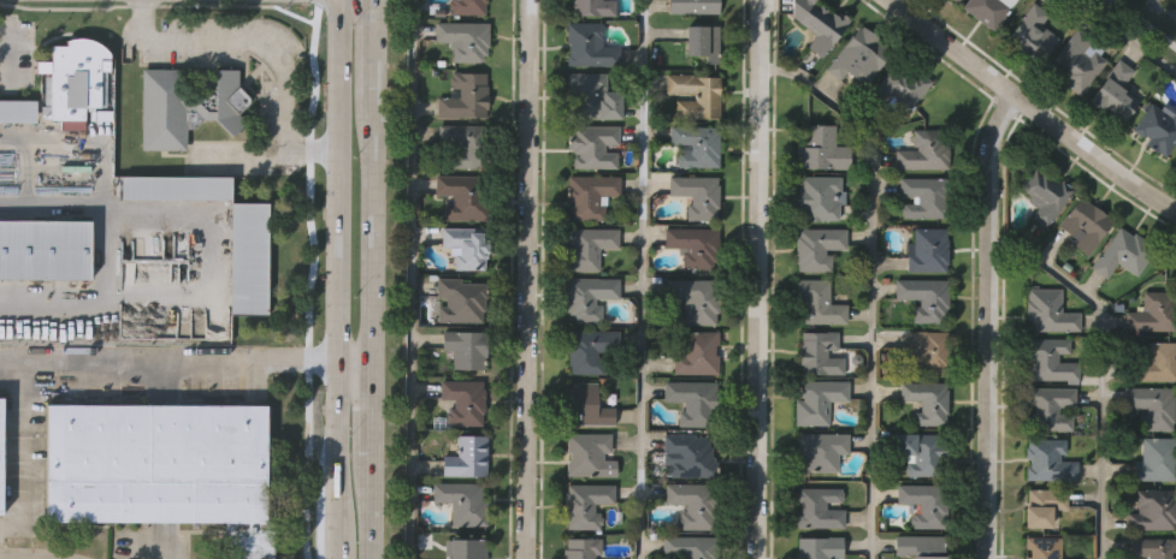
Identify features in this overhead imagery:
building: (958, 0)
building: (593, 6)
building: (693, 6)
building: (466, 7)
building: (988, 10)
building: (817, 24)
road: (1144, 24)
building: (1033, 30)
road: (1127, 37)
building: (465, 38)
building: (704, 40)
road: (266, 46)
building: (587, 47)
road: (370, 50)
building: (858, 55)
building: (1077, 61)
building: (77, 87)
building: (902, 87)
building: (1116, 90)
building: (695, 95)
building: (465, 96)
building: (592, 96)
building: (185, 103)
road: (1032, 107)
building: (18, 111)
building: (1158, 127)
building: (466, 144)
building: (592, 144)
building: (697, 145)
building: (820, 149)
building: (922, 151)
building: (1175, 162)
road: (243, 163)
road: (338, 177)
building: (176, 186)
building: (462, 195)
building: (590, 195)
building: (697, 195)
building: (922, 196)
building: (1046, 196)
building: (817, 198)
building: (1086, 225)
road: (370, 231)
building: (695, 245)
building: (466, 246)
building: (816, 246)
building: (43, 248)
building: (589, 248)
building: (928, 250)
building: (1123, 254)
building: (249, 256)
road: (208, 263)
road: (413, 279)
road: (528, 279)
road: (644, 279)
road: (760, 279)
road: (873, 280)
building: (589, 297)
building: (922, 297)
building: (461, 301)
building: (696, 301)
building: (817, 304)
building: (1048, 309)
building: (1154, 311)
road: (988, 322)
building: (465, 347)
building: (590, 350)
building: (926, 350)
building: (696, 352)
building: (817, 352)
road: (170, 357)
road: (341, 358)
building: (1050, 358)
road: (355, 362)
building: (1154, 363)
road: (1101, 364)
building: (816, 399)
building: (924, 400)
building: (463, 402)
building: (693, 402)
road: (370, 405)
building: (586, 405)
building: (1151, 406)
building: (1052, 408)
road: (341, 440)
building: (821, 450)
building: (918, 451)
building: (1, 453)
building: (589, 454)
road: (24, 456)
building: (687, 456)
building: (467, 457)
building: (1157, 457)
building: (1048, 460)
building: (162, 466)
building: (462, 501)
road: (368, 504)
building: (585, 504)
building: (692, 504)
building: (924, 505)
building: (1041, 505)
building: (817, 507)
building: (1152, 509)
road: (342, 539)
road: (150, 540)
building: (819, 547)
building: (918, 547)
building: (1042, 547)
building: (463, 548)
building: (580, 548)
building: (687, 548)
building: (1153, 548)

